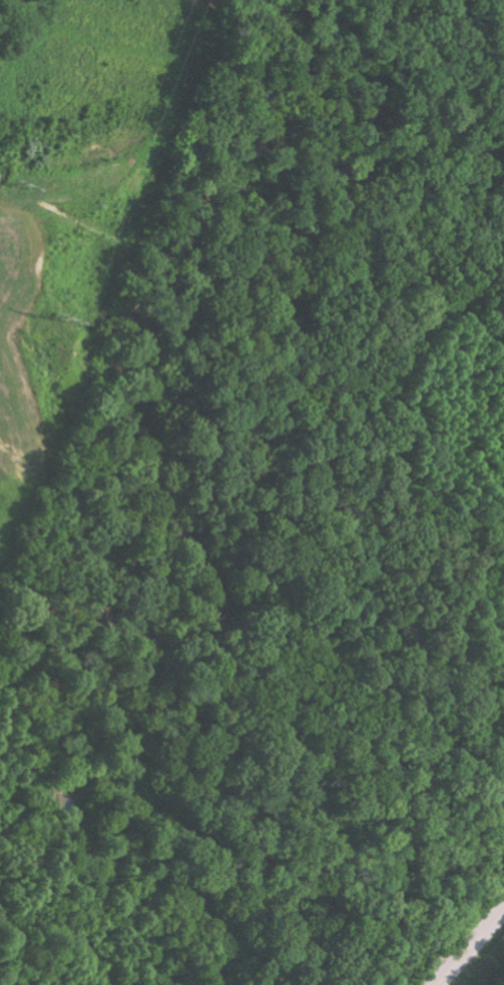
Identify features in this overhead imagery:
road: (471, 947)

